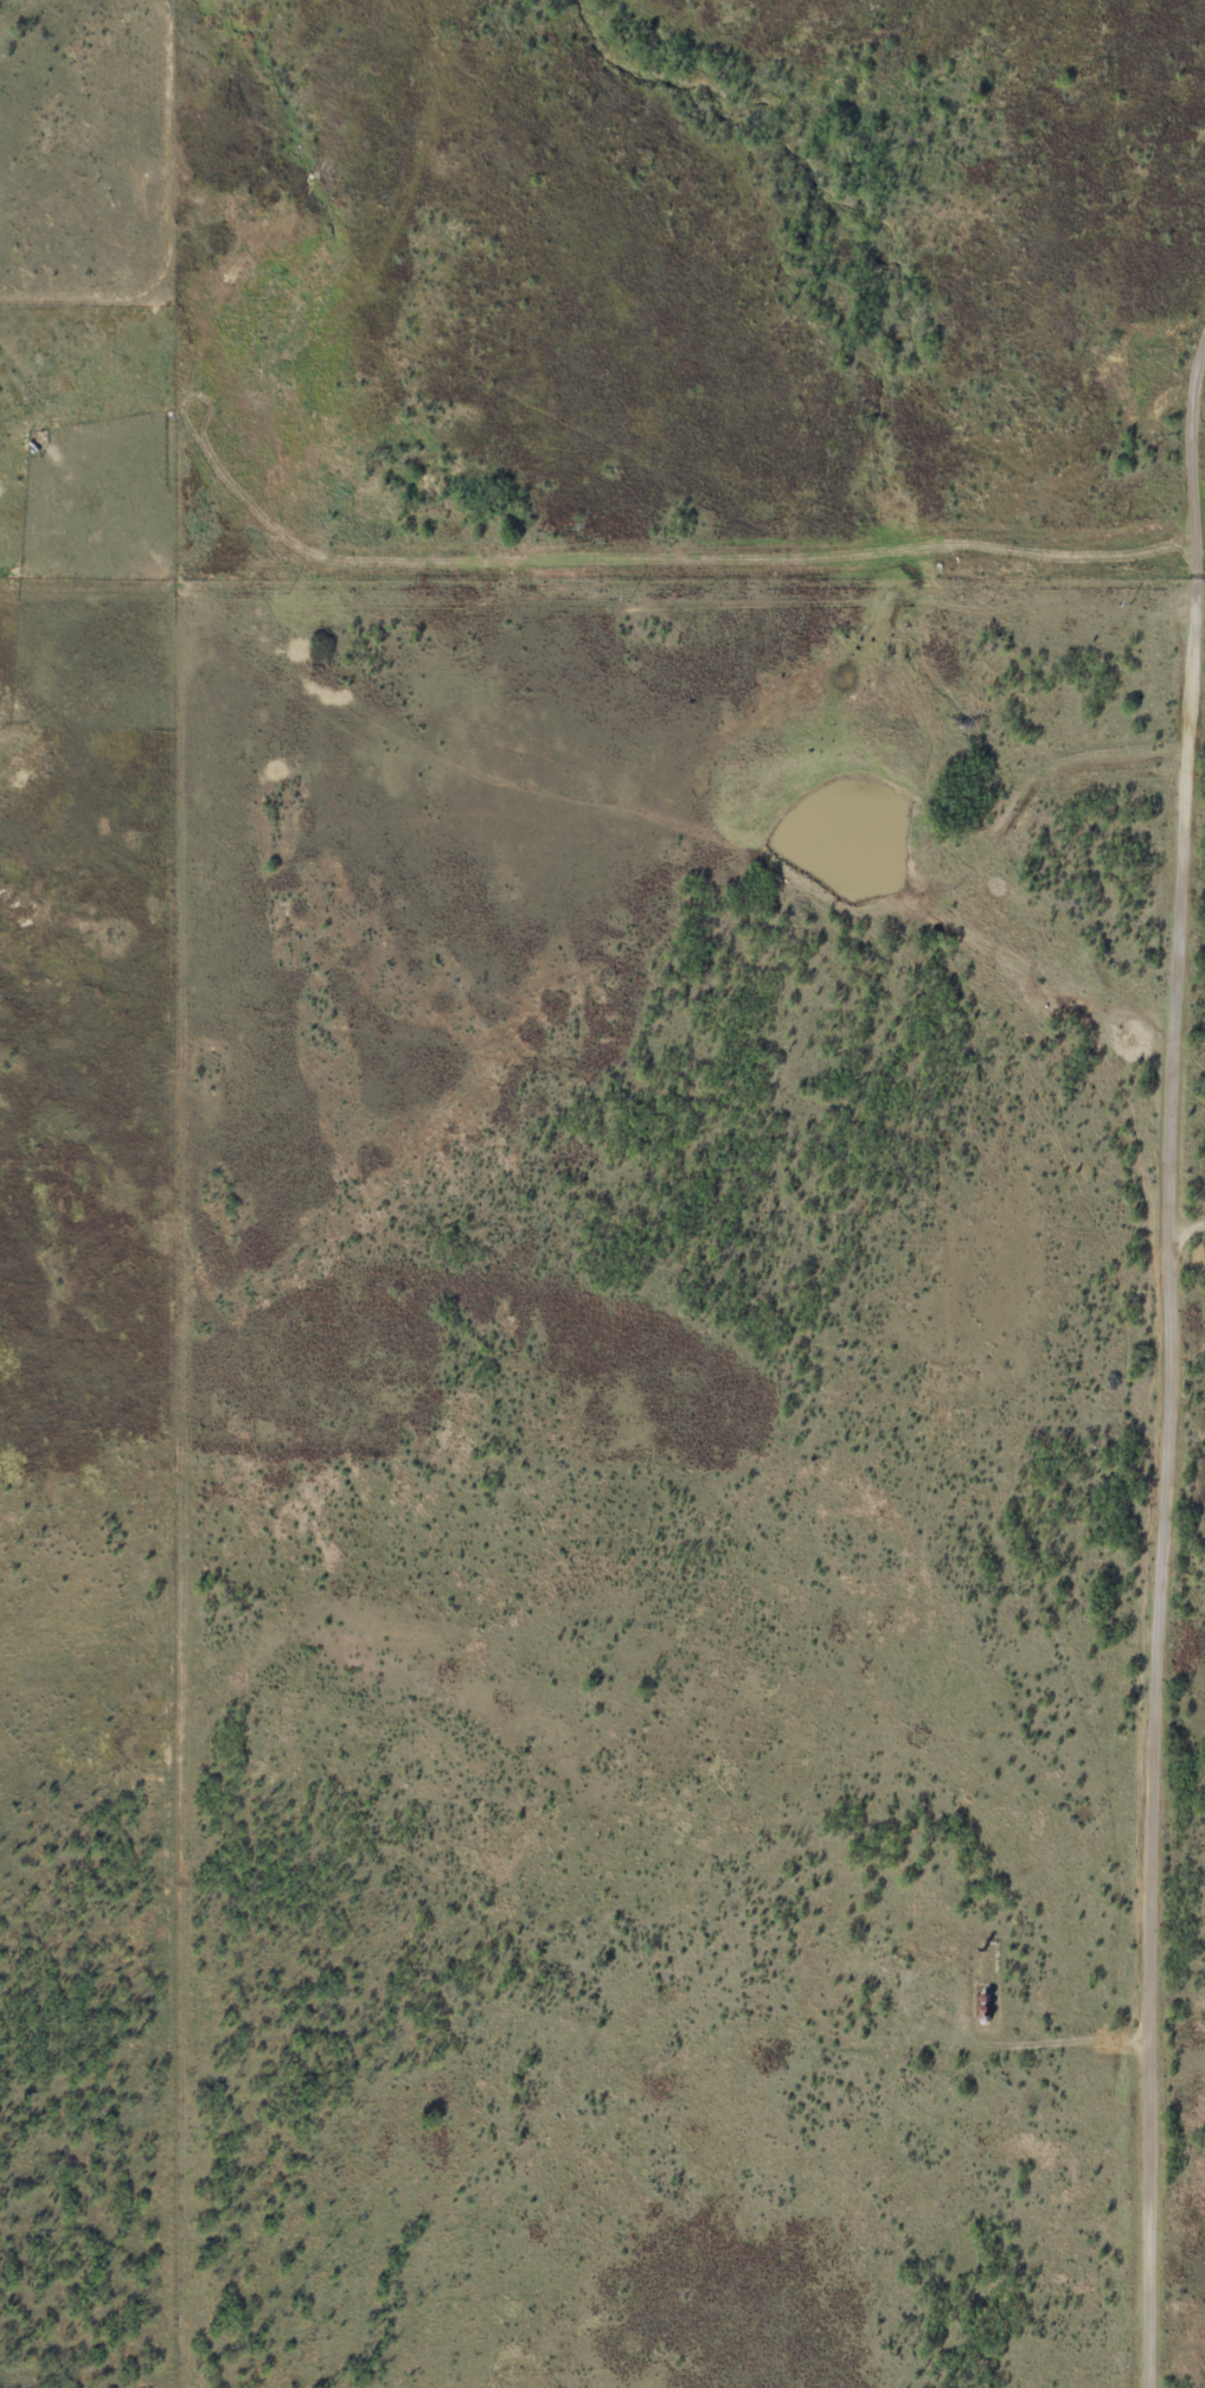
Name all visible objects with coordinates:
road: (693, 324)
road: (1160, 1378)

